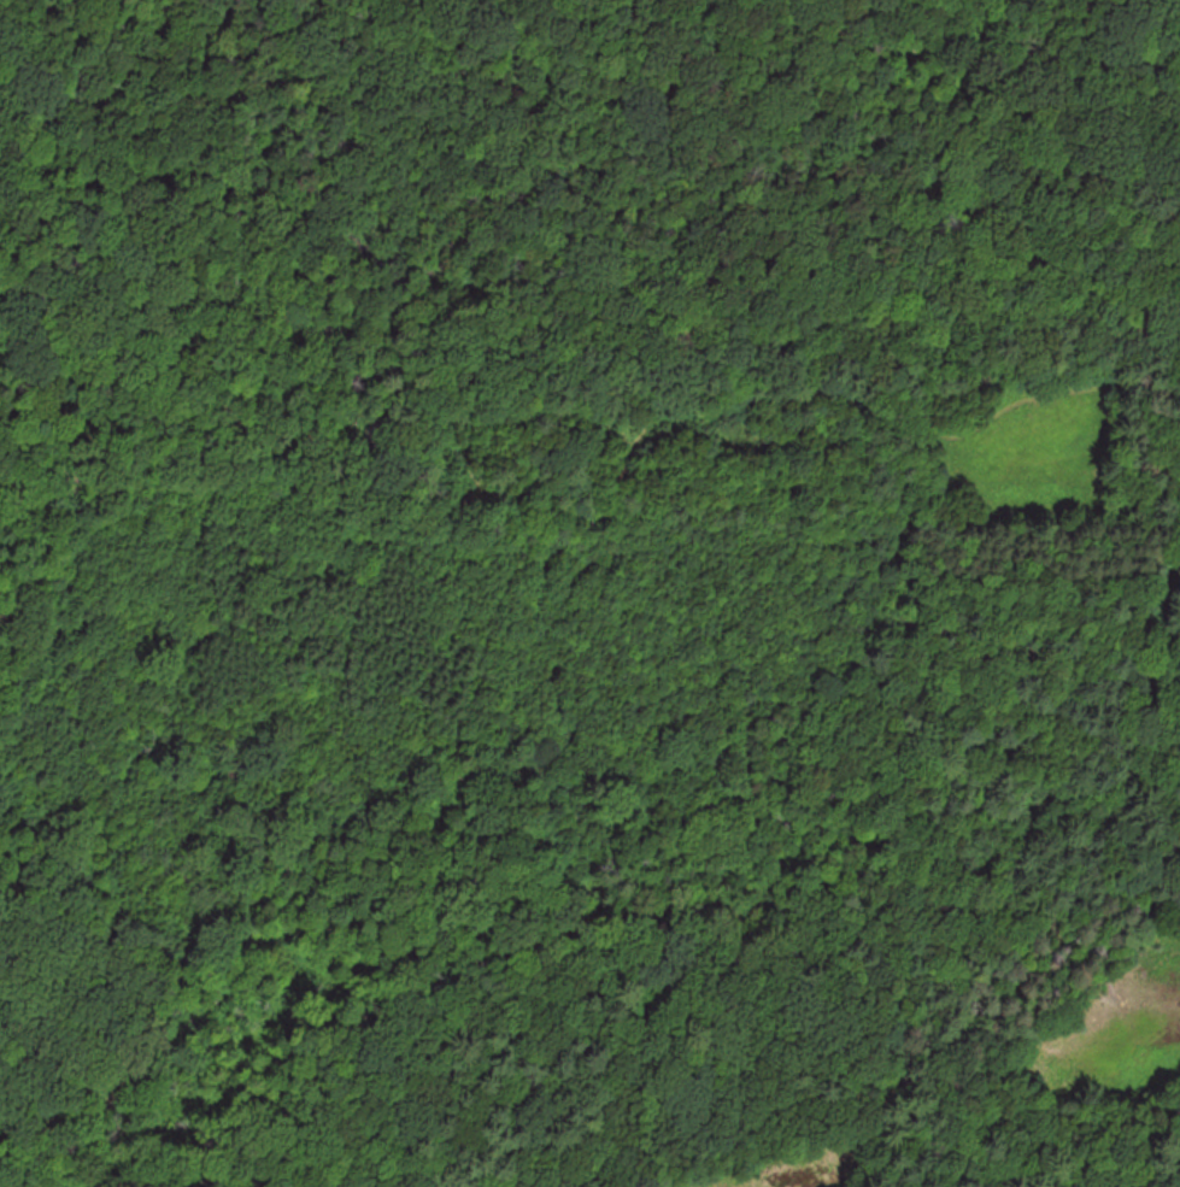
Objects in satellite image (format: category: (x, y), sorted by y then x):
park: (557, 742)

